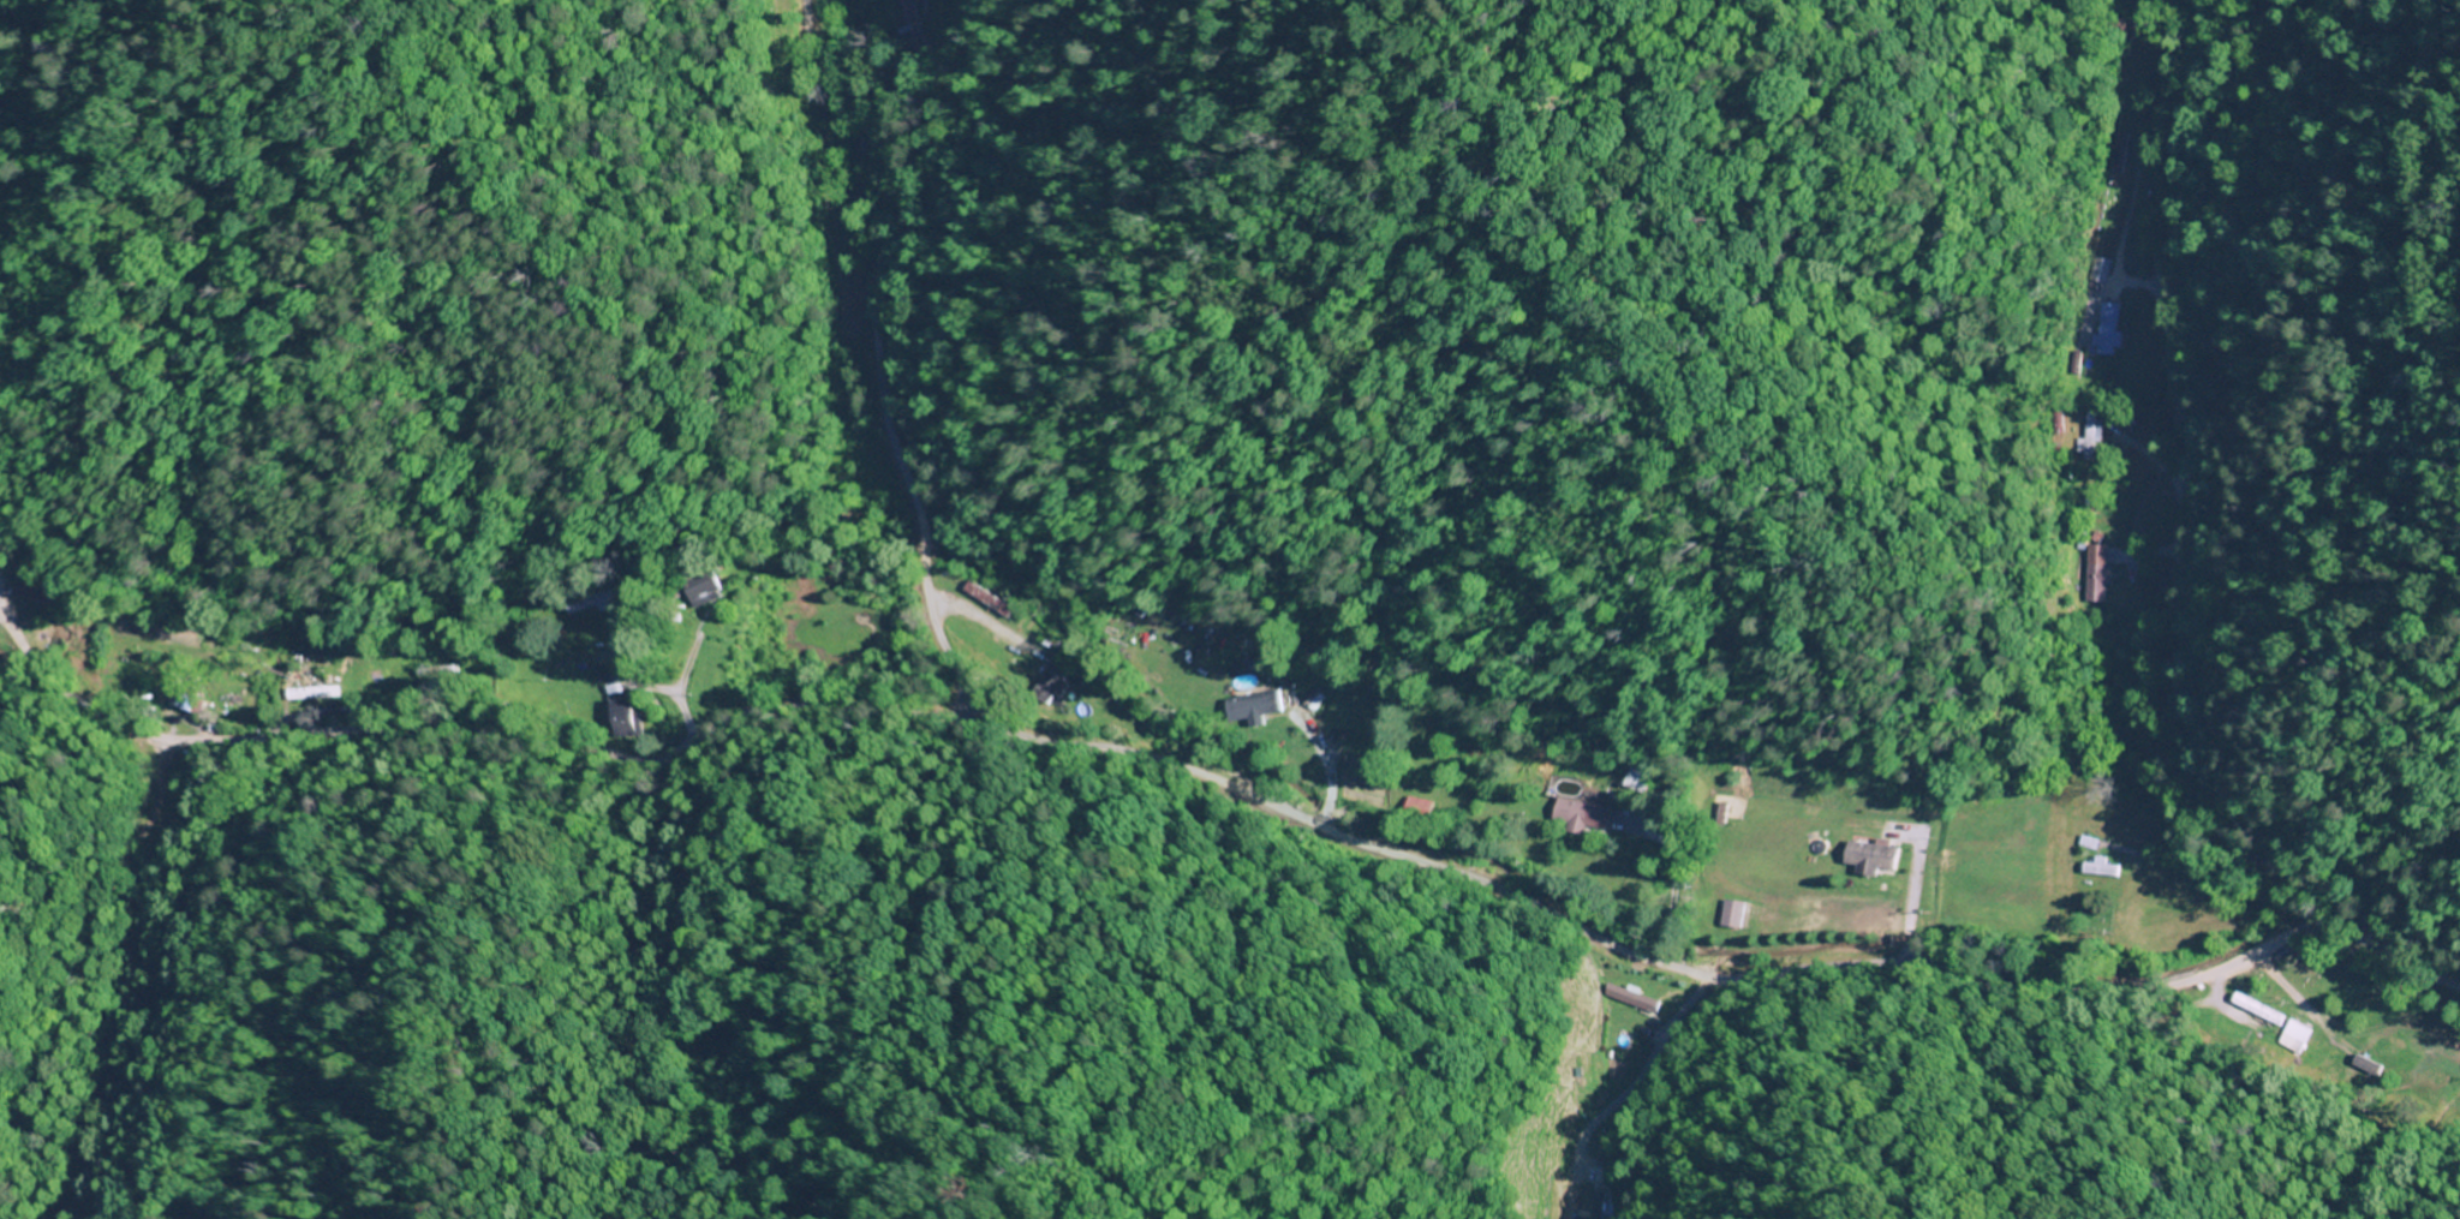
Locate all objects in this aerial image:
road: (756, 8)
road: (788, 42)
building: (2144, 115)
building: (2114, 153)
building: (2097, 269)
building: (2110, 329)
road: (891, 359)
building: (2090, 437)
building: (2098, 582)
building: (32, 587)
building: (992, 600)
road: (5, 625)
building: (440, 670)
building: (322, 682)
road: (2178, 693)
building: (1254, 709)
building: (622, 715)
building: (1636, 778)
road: (1230, 785)
building: (1578, 814)
building: (2134, 835)
building: (1871, 858)
building: (2102, 868)
building: (1736, 914)
building: (1644, 1002)

